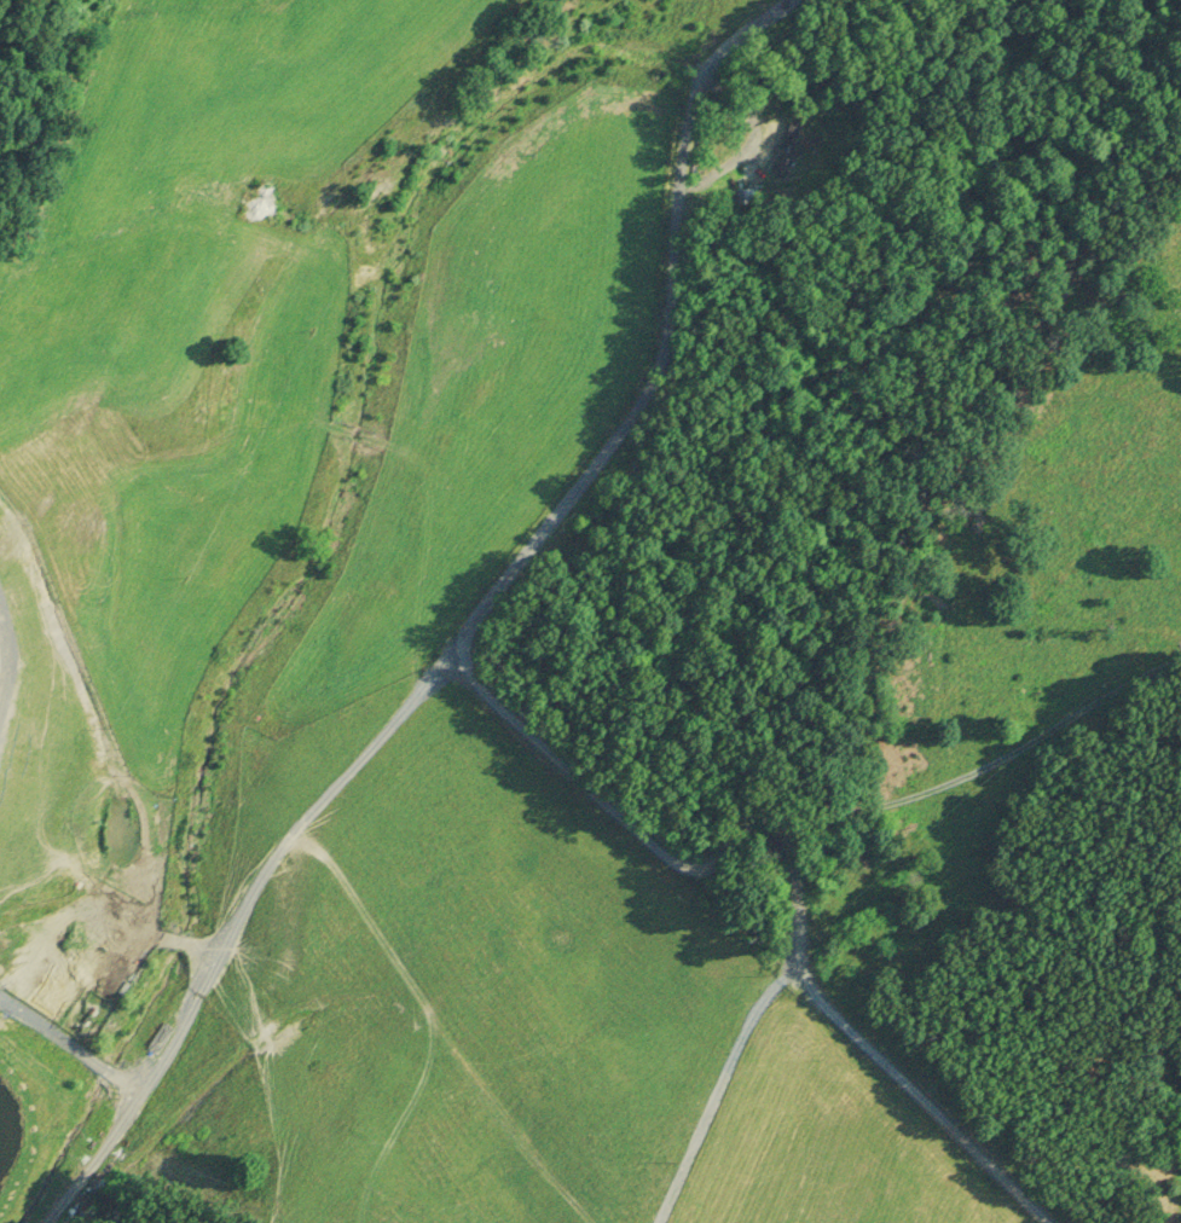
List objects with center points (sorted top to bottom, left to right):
road: (641, 335)
road: (717, 801)
road: (236, 923)
road: (724, 1092)
road: (936, 1111)

